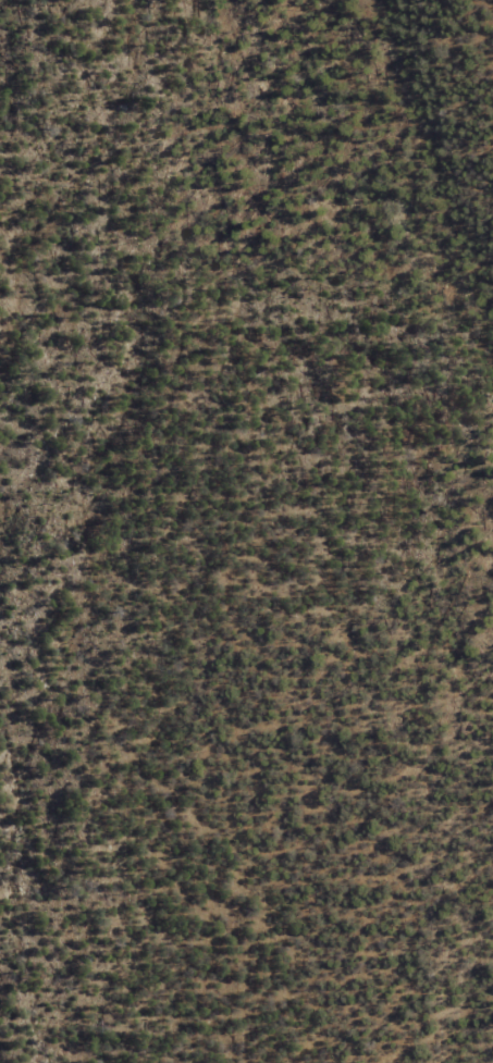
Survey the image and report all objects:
road: (254, 89)

